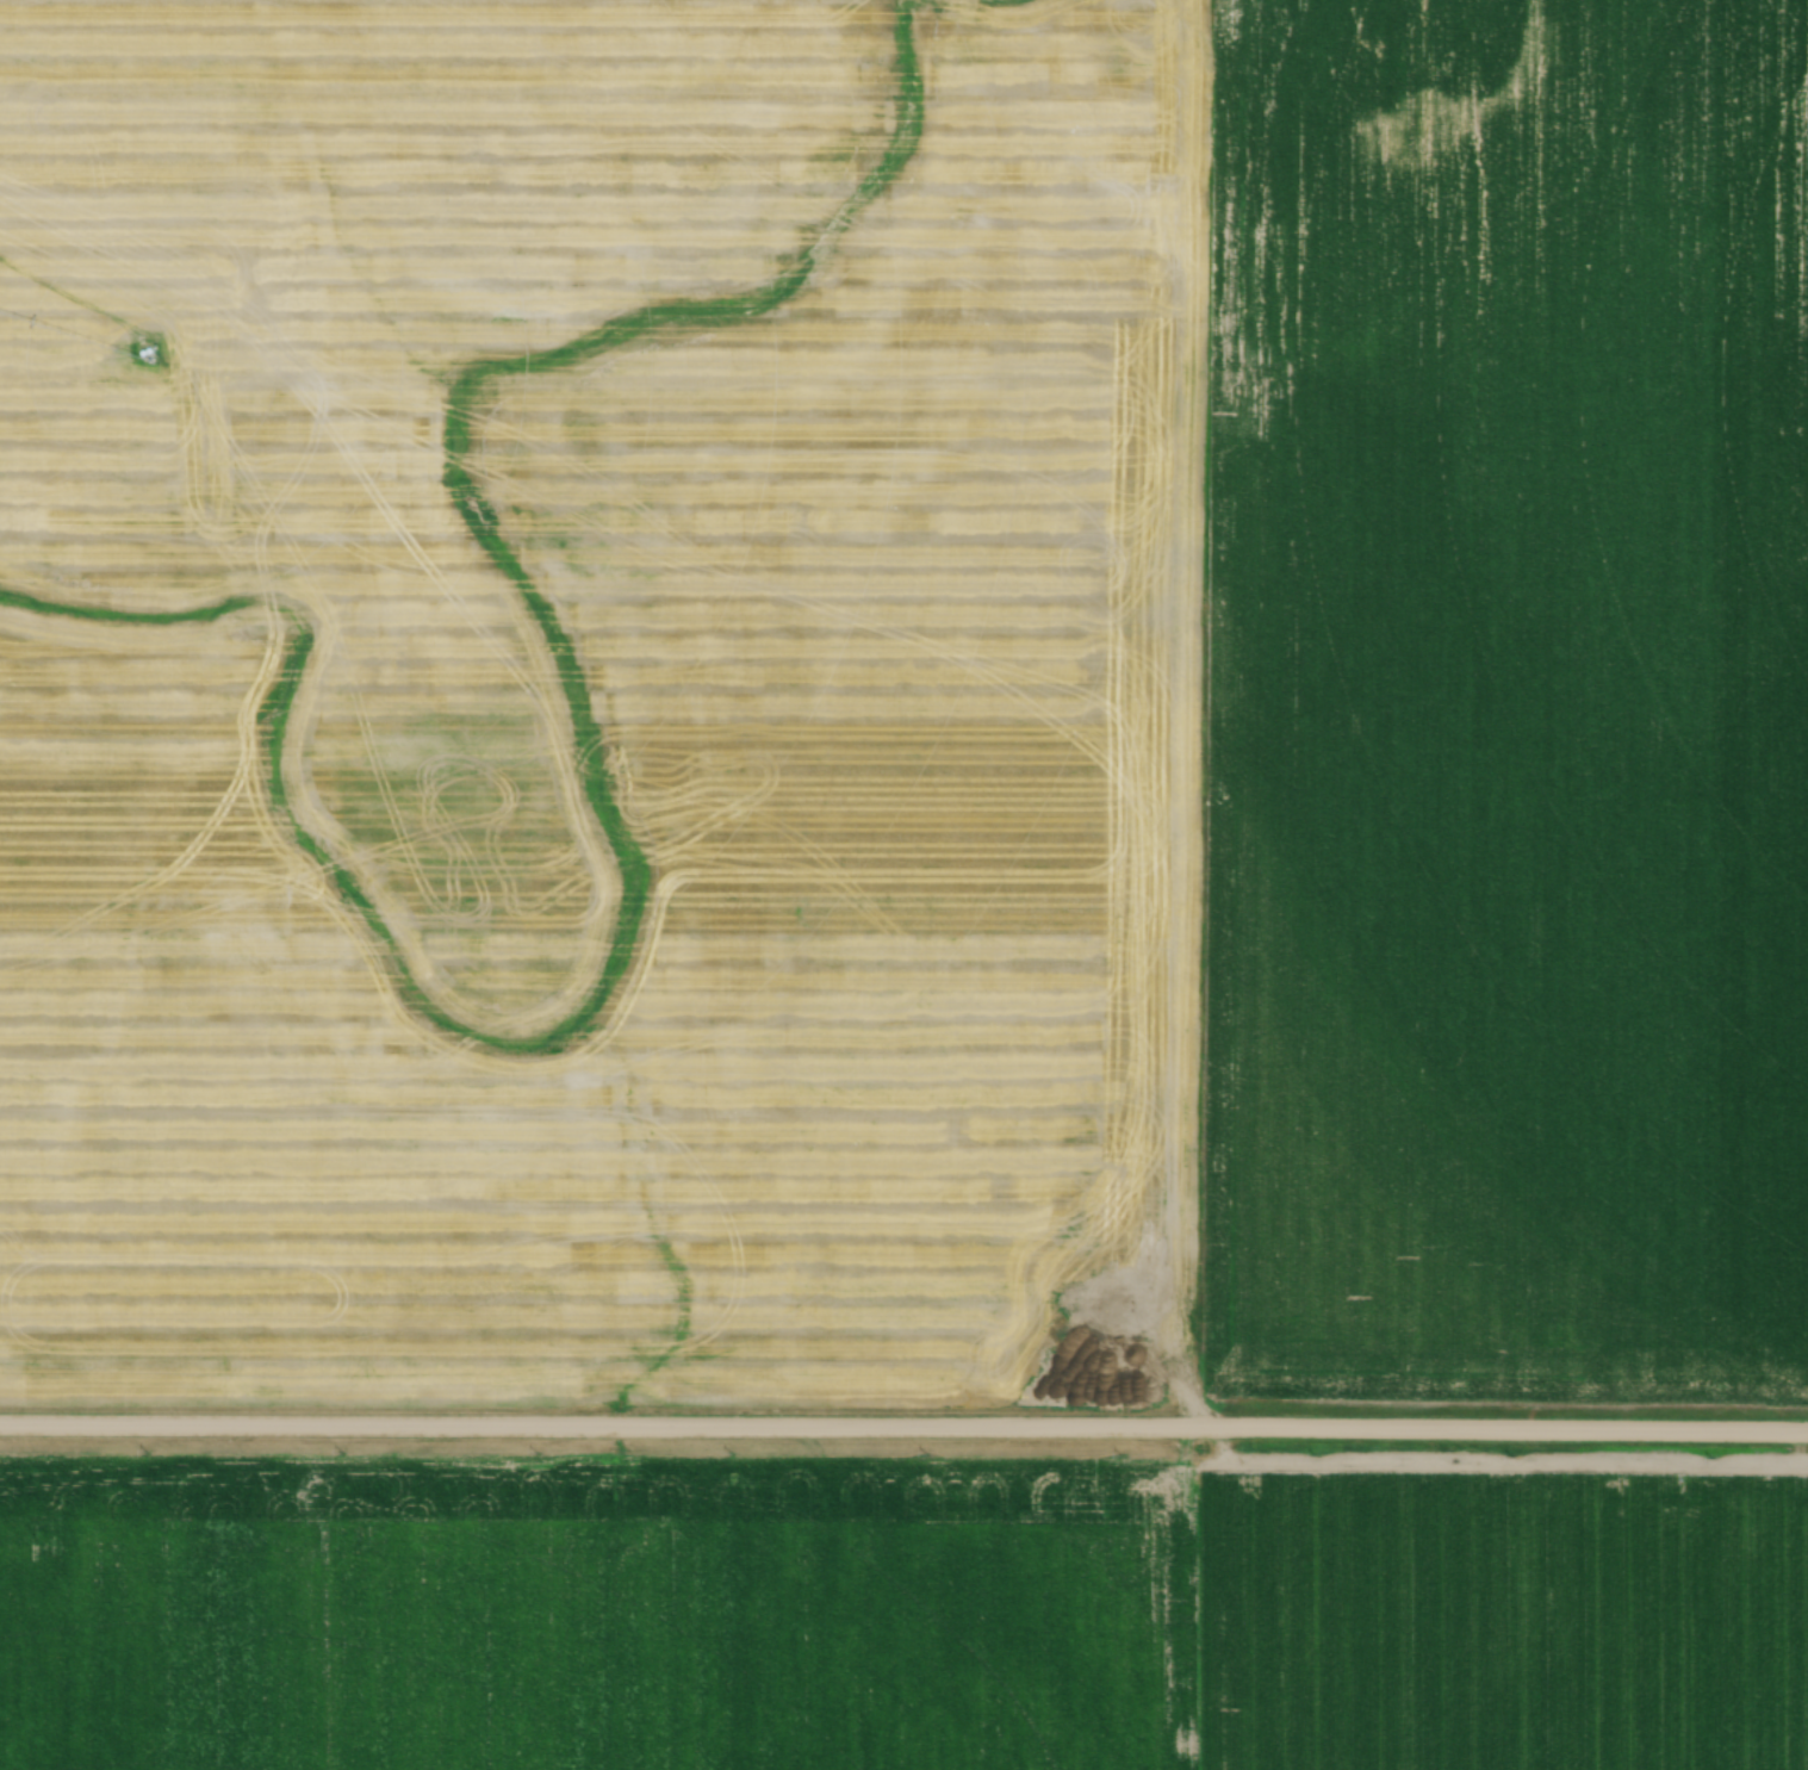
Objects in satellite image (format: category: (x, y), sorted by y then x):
road: (903, 1429)

